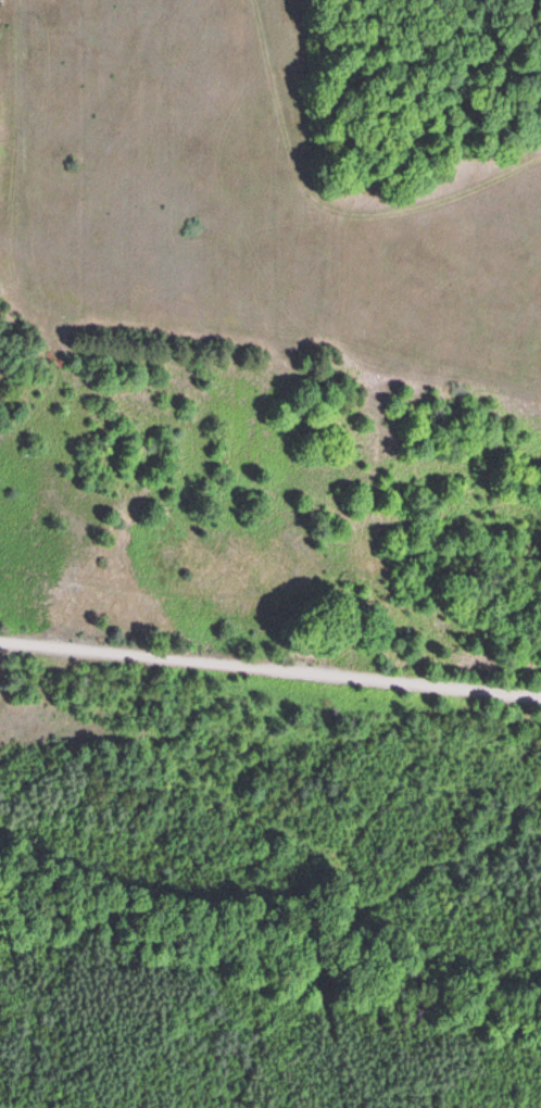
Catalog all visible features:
road: (270, 662)

